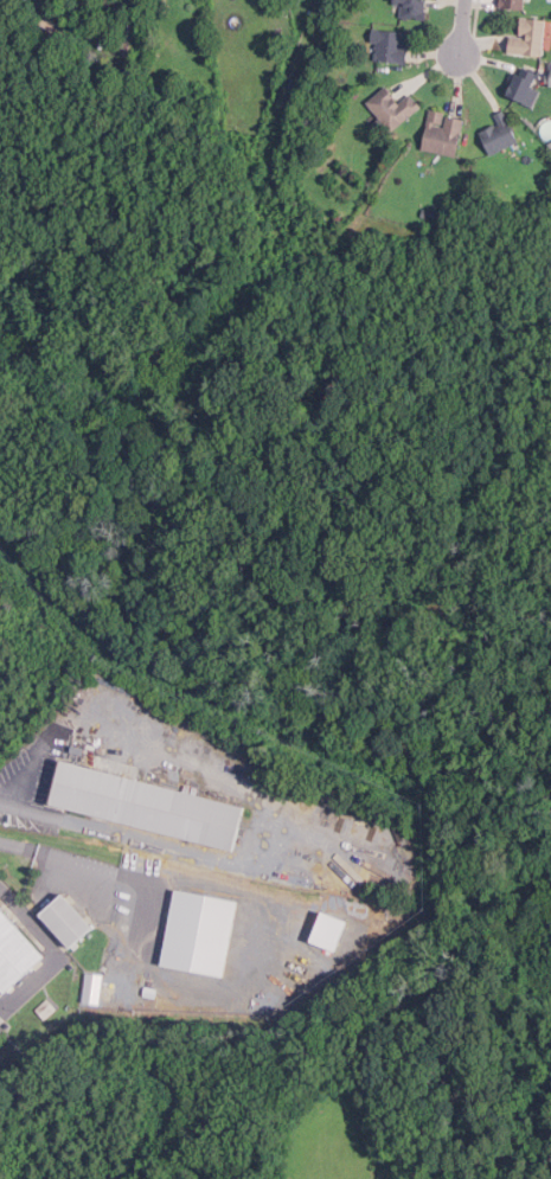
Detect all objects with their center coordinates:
building: (513, 4)
building: (414, 8)
road: (462, 21)
building: (530, 37)
building: (391, 46)
building: (547, 75)
building: (524, 84)
building: (393, 107)
building: (444, 133)
building: (499, 134)
building: (153, 806)
road: (275, 813)
road: (72, 860)
building: (69, 921)
building: (205, 931)
building: (334, 931)
road: (56, 949)
building: (15, 953)
building: (94, 989)

